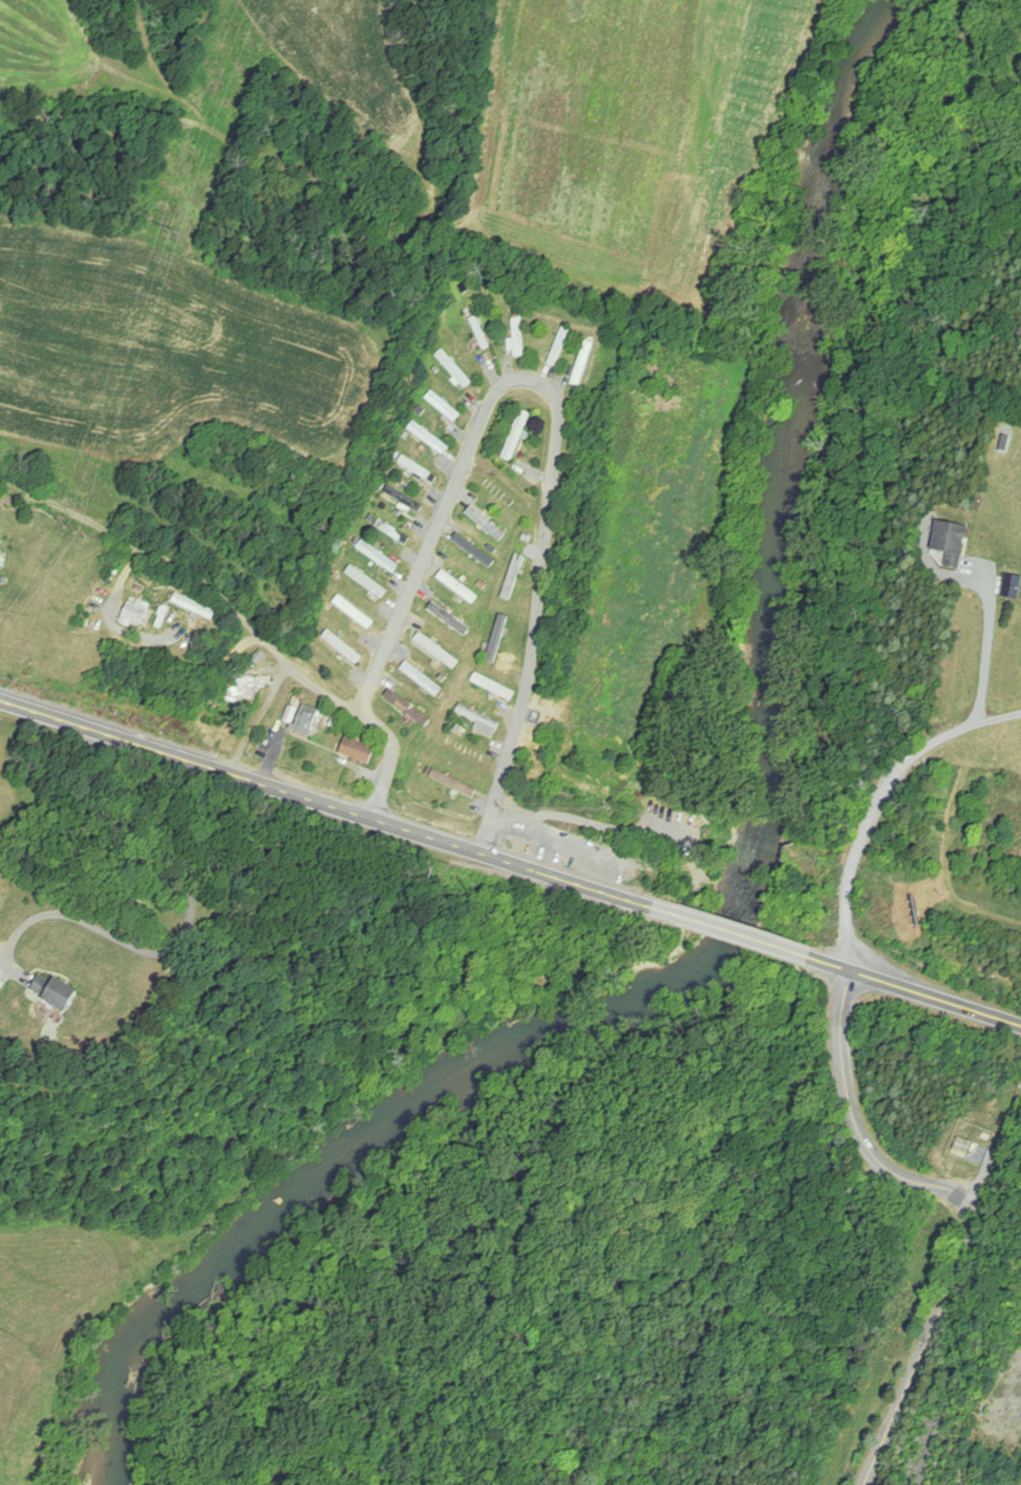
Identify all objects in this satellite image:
power tower: (175, 239)
building: (519, 337)
building: (561, 346)
building: (585, 363)
building: (455, 369)
building: (445, 406)
road: (561, 419)
building: (518, 435)
building: (430, 438)
building: (1006, 443)
building: (419, 470)
building: (403, 499)
building: (482, 519)
power tower: (76, 528)
building: (390, 529)
building: (951, 542)
building: (337, 548)
building: (476, 550)
building: (379, 556)
building: (515, 576)
building: (368, 581)
building: (460, 587)
building: (196, 606)
building: (355, 611)
building: (137, 613)
building: (451, 619)
road: (258, 631)
building: (499, 639)
road: (987, 646)
building: (344, 647)
building: (439, 651)
building: (423, 679)
building: (255, 684)
building: (495, 687)
building: (410, 708)
building: (303, 718)
building: (482, 721)
building: (359, 751)
building: (454, 783)
road: (322, 802)
road: (879, 802)
river: (745, 892)
road: (186, 925)
road: (727, 932)
road: (915, 991)
building: (55, 992)
building: (964, 1146)
road: (968, 1205)
quarry: (983, 1405)

